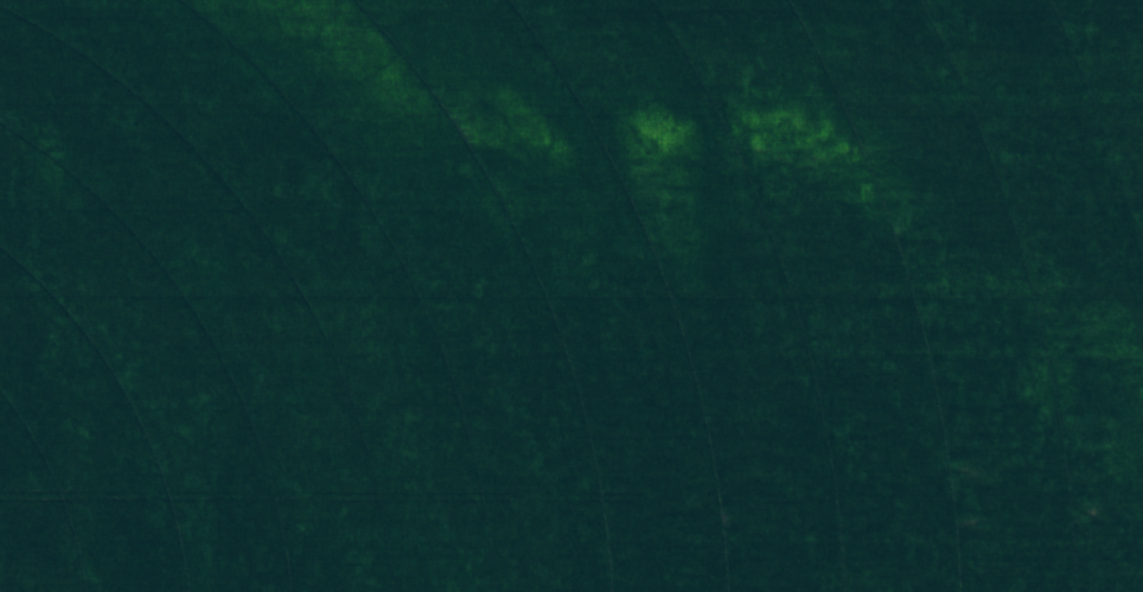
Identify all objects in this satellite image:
crop: (571, 295)

